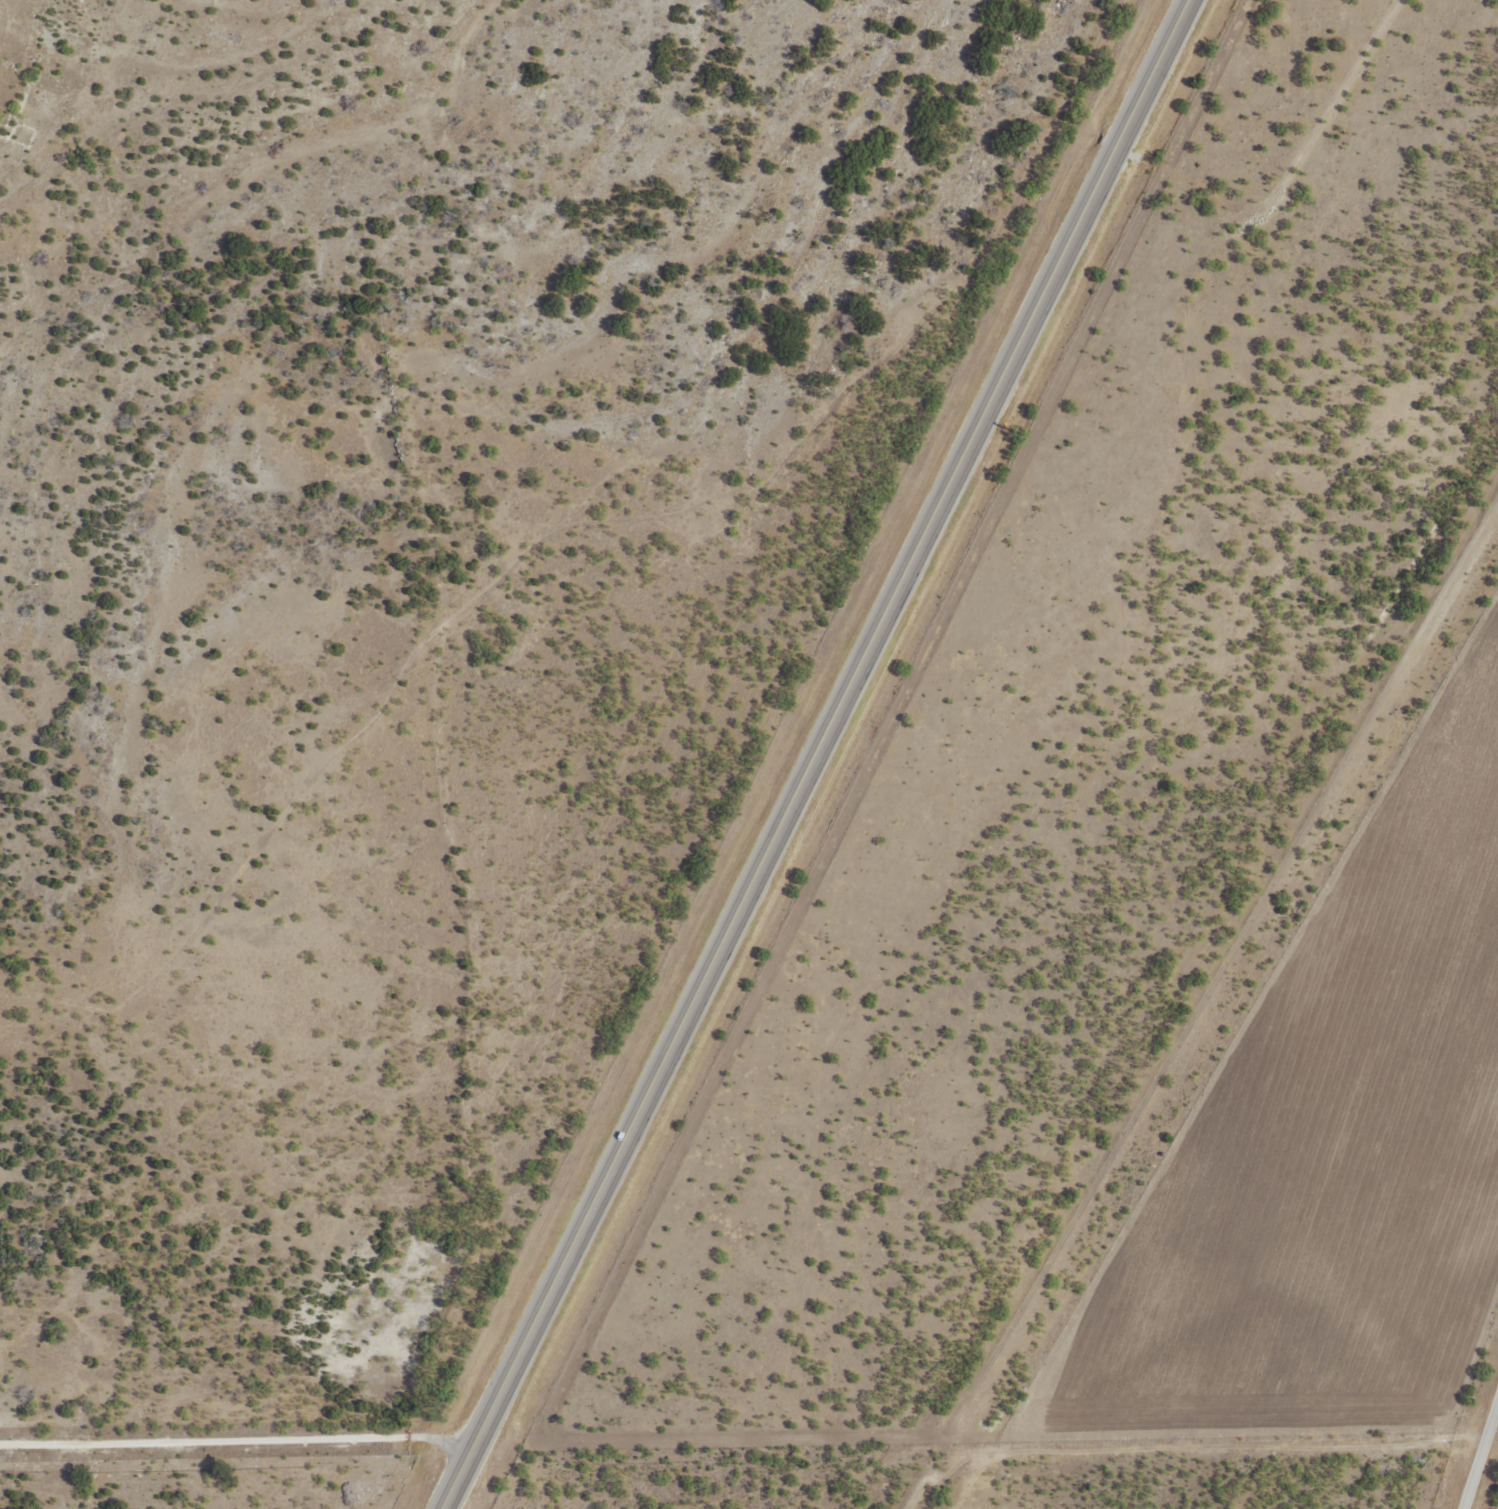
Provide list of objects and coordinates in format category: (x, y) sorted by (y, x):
road: (818, 756)
railway: (1217, 1031)
road: (1054, 1417)
road: (238, 1447)
road: (1492, 1488)

